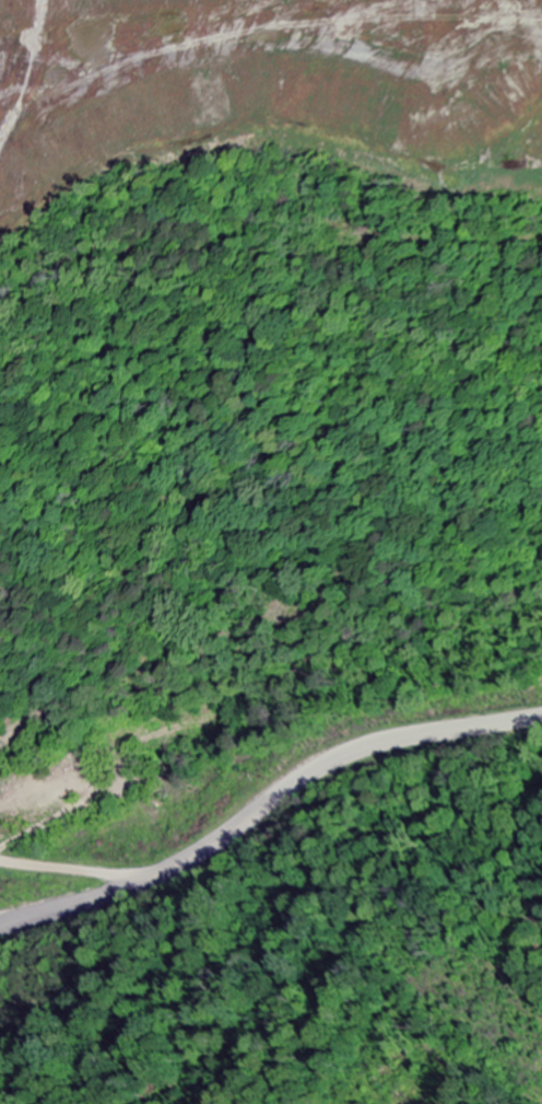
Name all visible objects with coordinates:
road: (282, 880)

